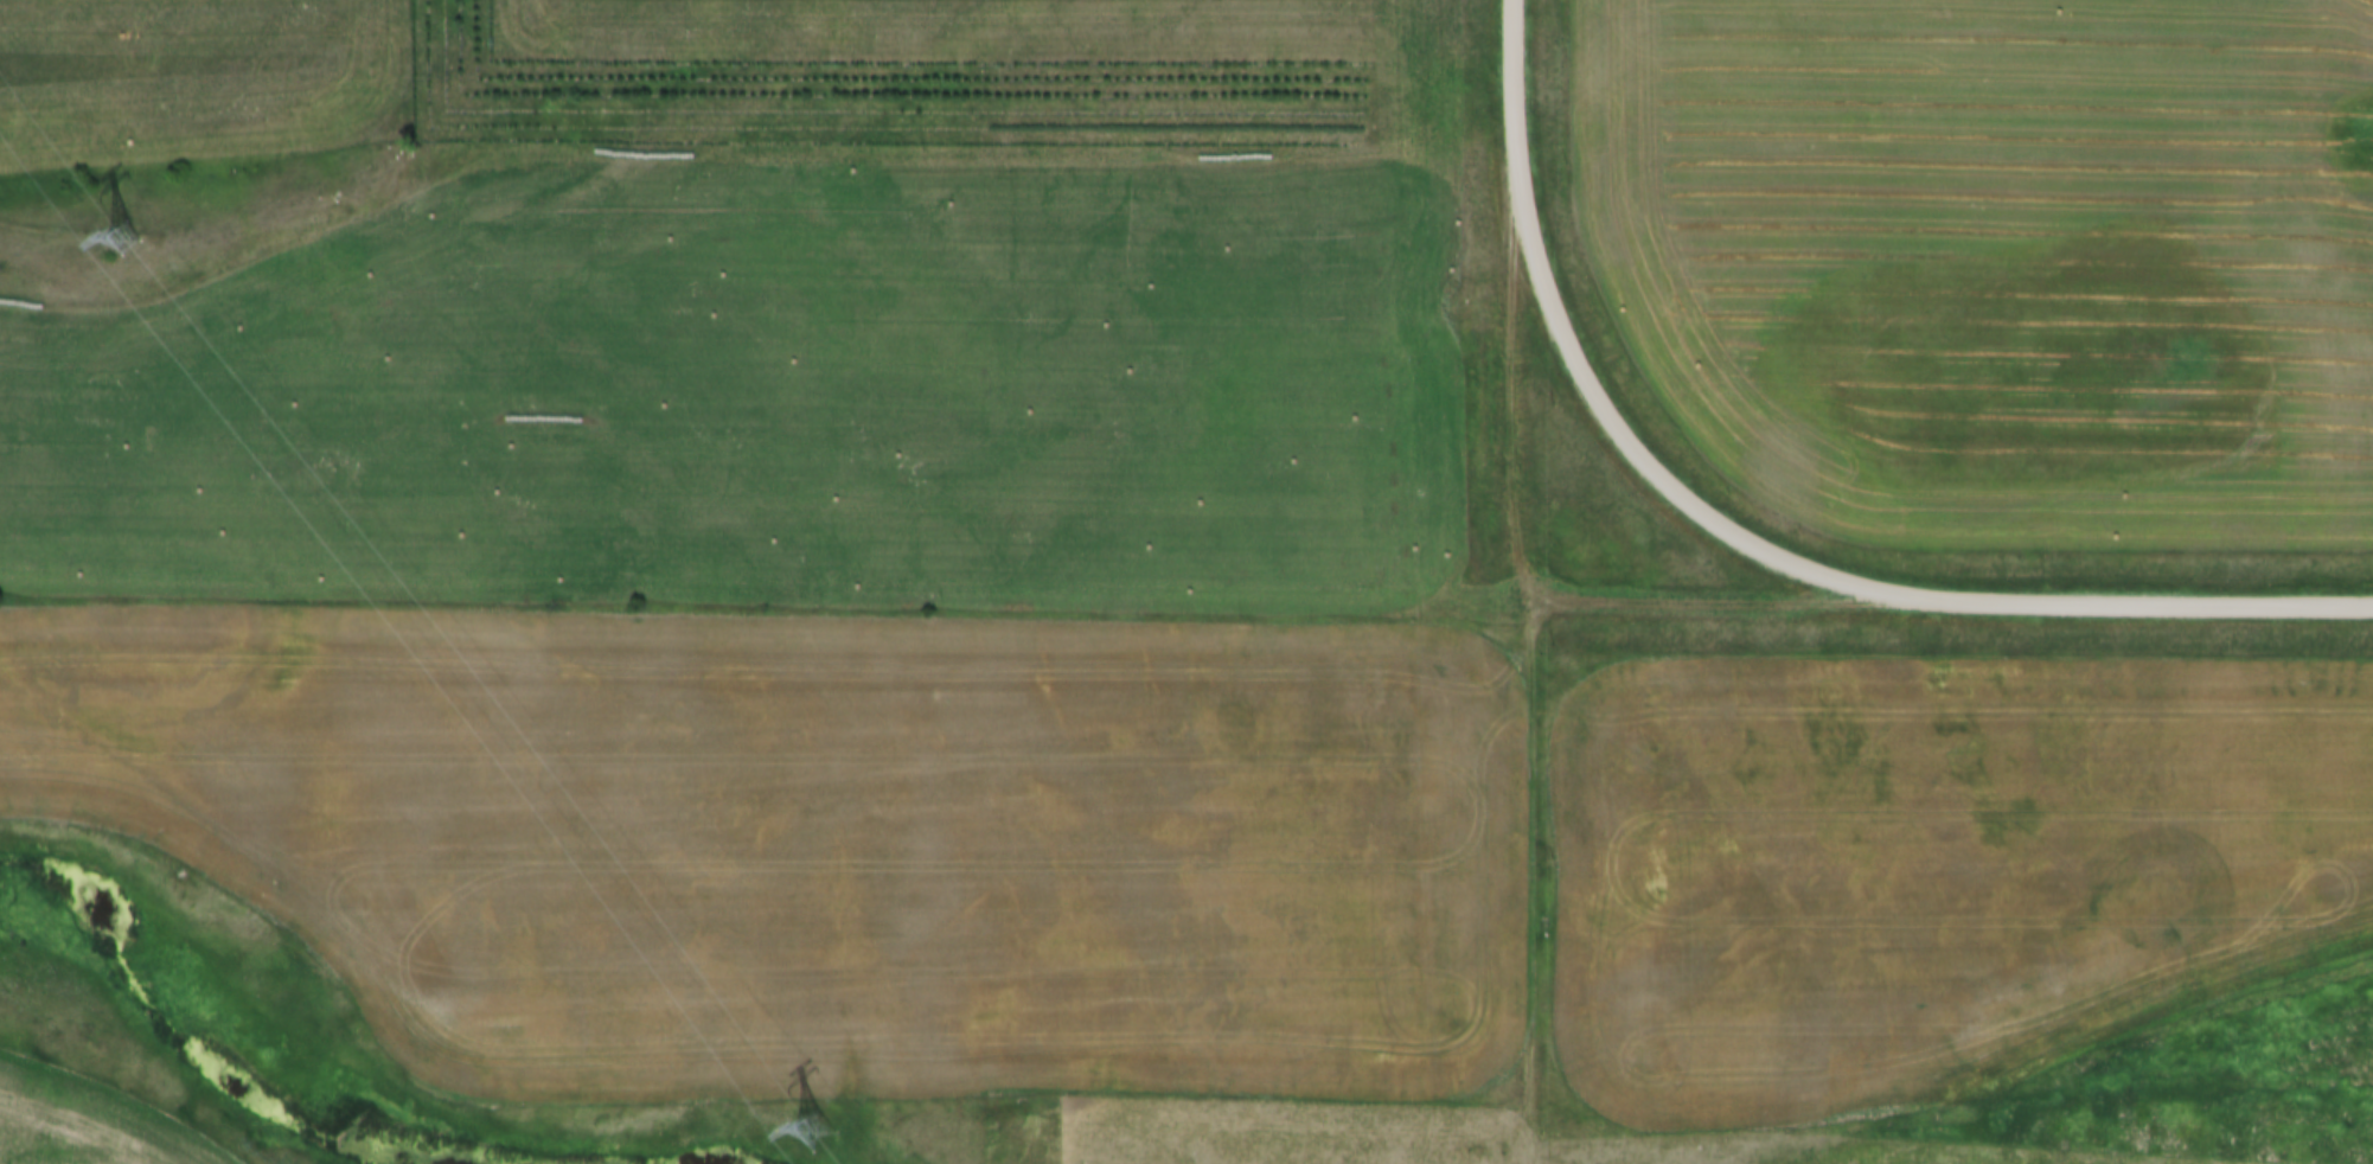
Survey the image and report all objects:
road: (1514, 63)
power tower: (137, 232)
road: (1616, 433)
road: (2131, 600)
road: (1709, 601)
road: (1528, 645)
power tower: (820, 1124)

